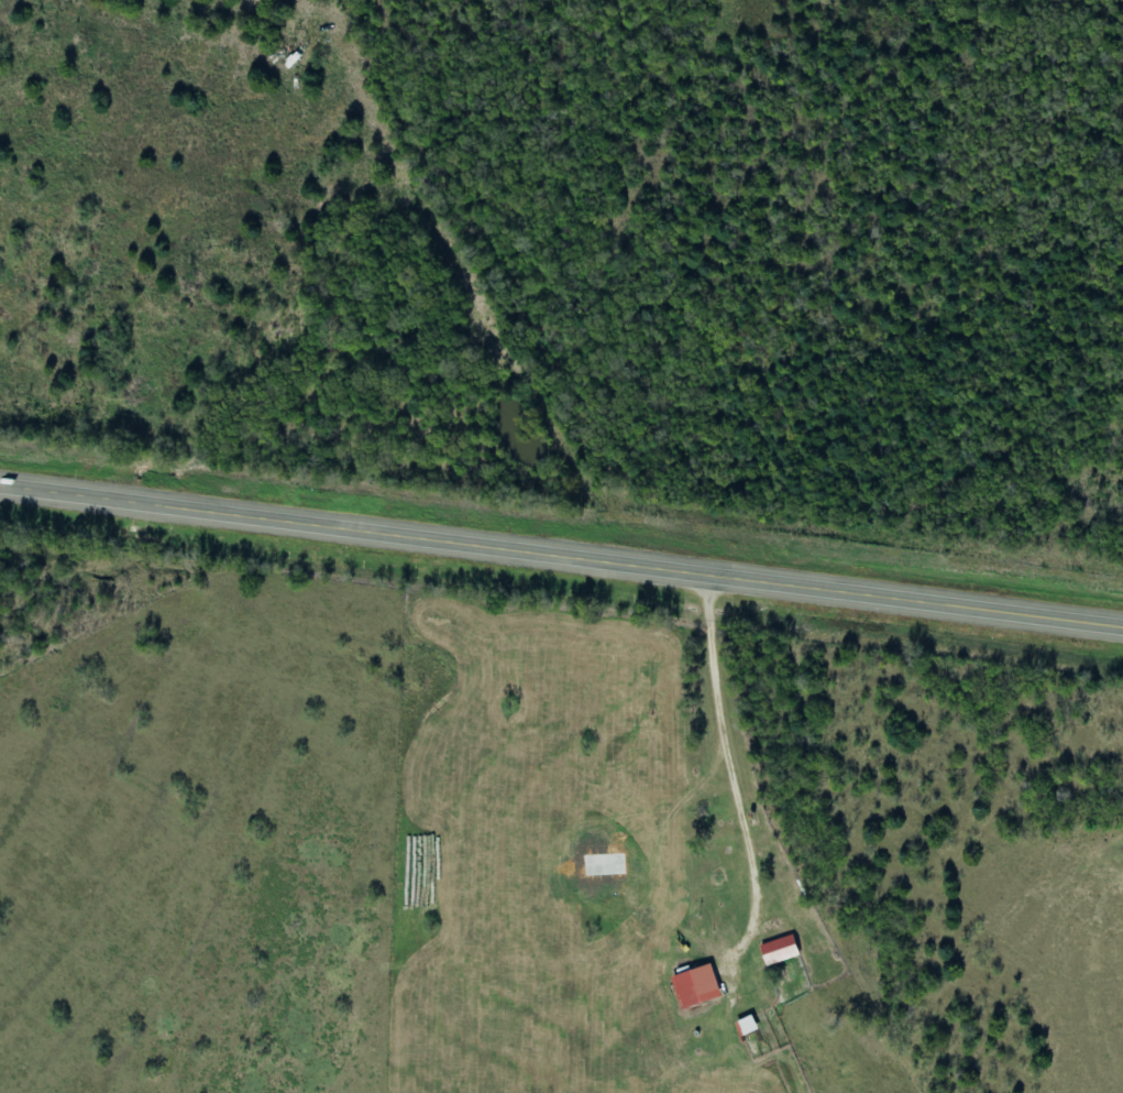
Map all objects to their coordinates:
road: (561, 553)
road: (727, 743)
building: (781, 951)
building: (698, 987)

